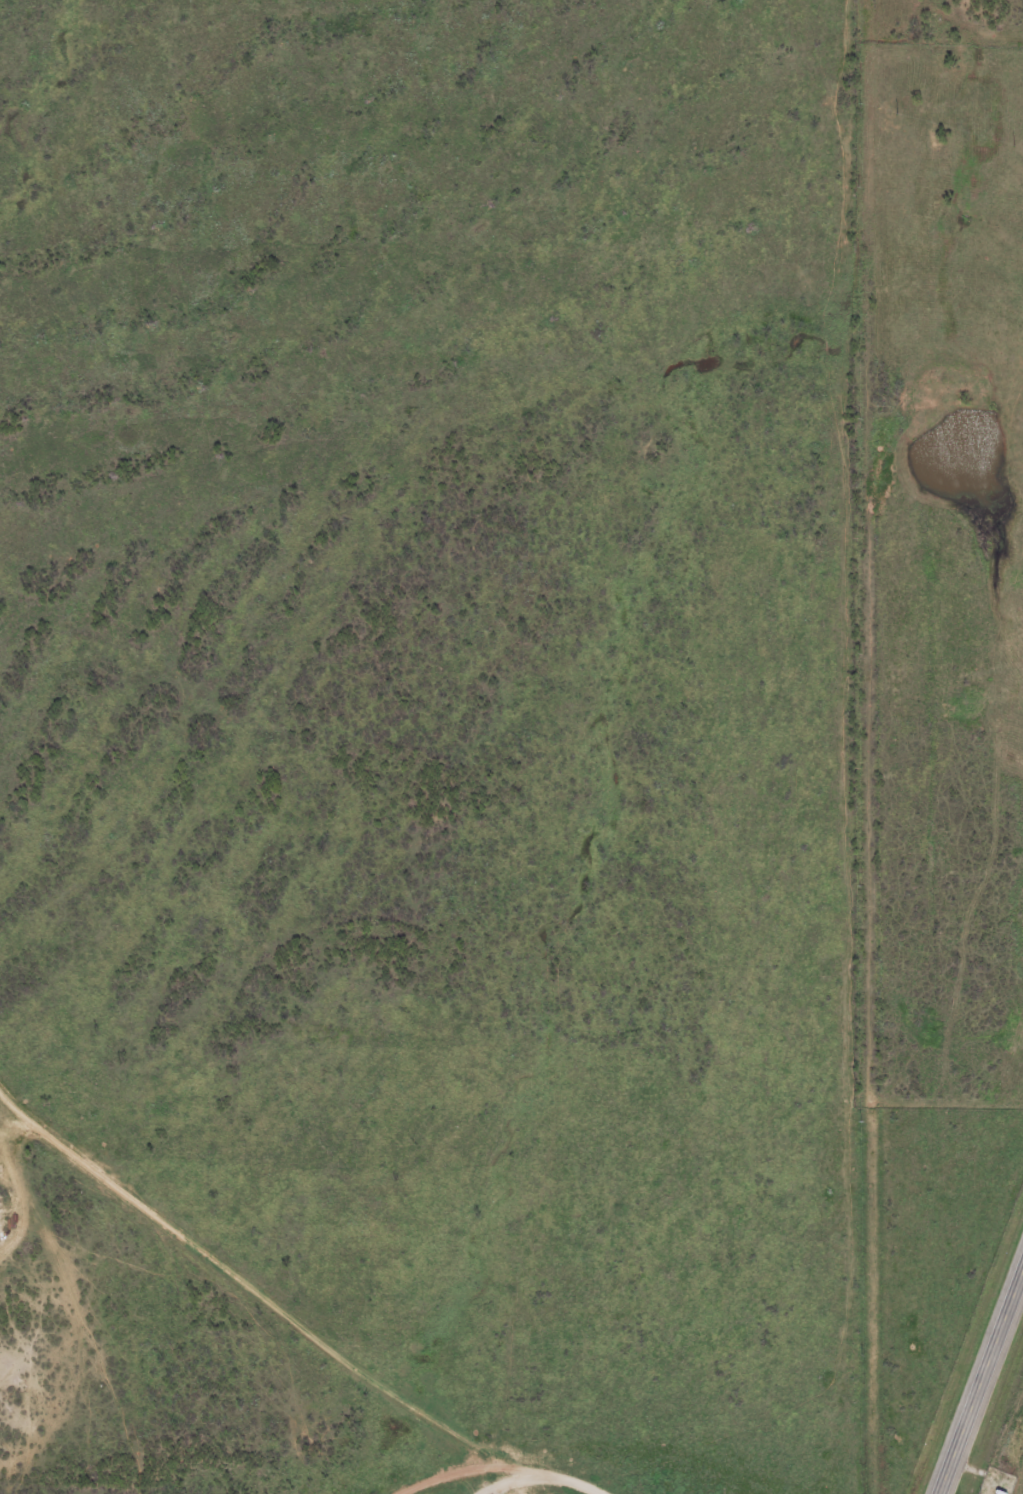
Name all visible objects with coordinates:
road: (981, 1383)

